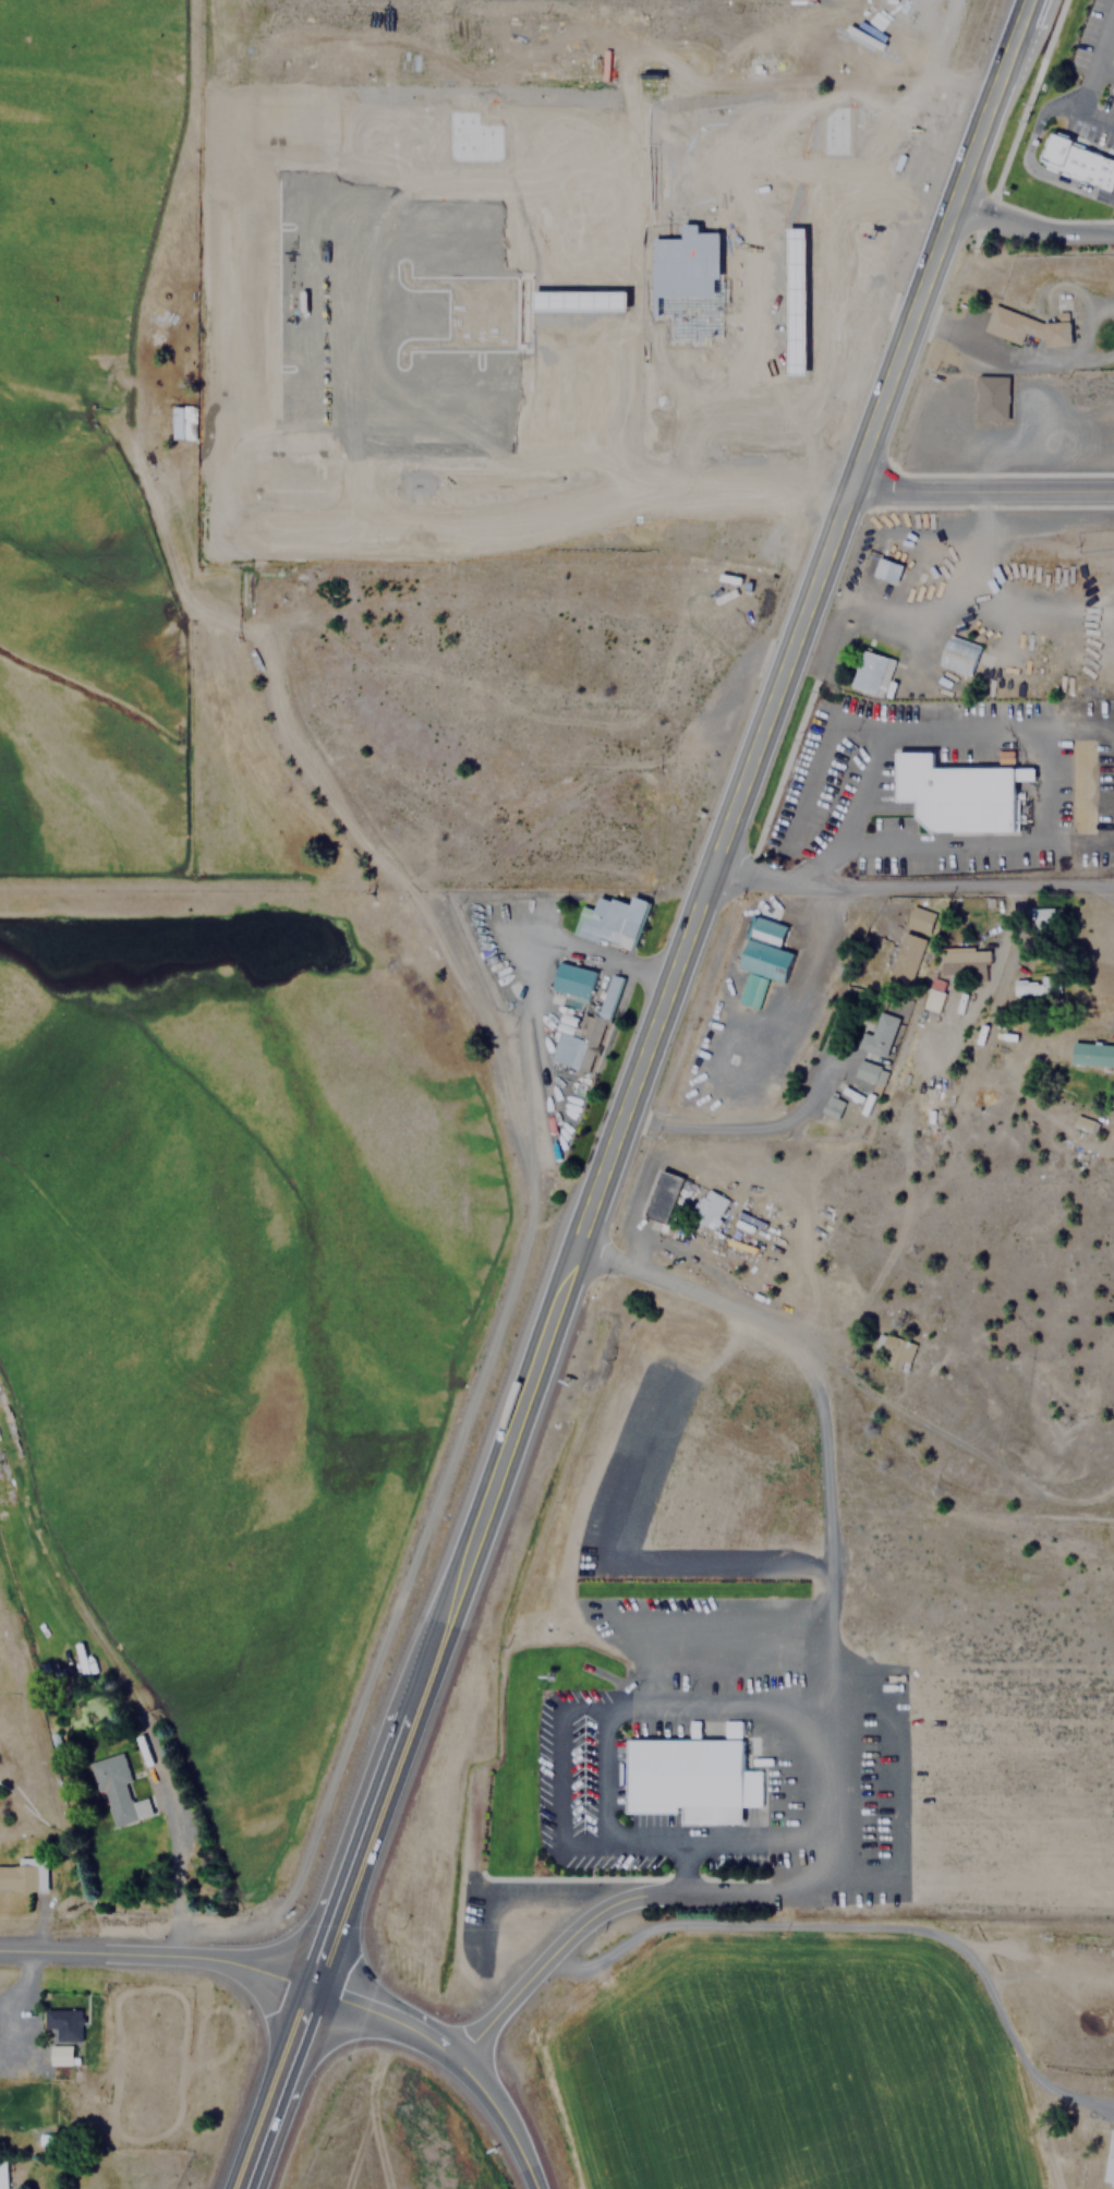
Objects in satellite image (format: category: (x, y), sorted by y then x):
road: (1090, 77)
building: (1074, 159)
road: (1026, 161)
parking lot: (719, 172)
road: (475, 199)
road: (1036, 227)
parking lot: (427, 260)
road: (762, 270)
building: (687, 284)
parking lot: (739, 284)
building: (579, 300)
gas station: (579, 300)
building: (797, 302)
gas station: (797, 302)
road: (823, 325)
building: (1025, 327)
building: (990, 397)
building: (182, 422)
road: (465, 423)
parking lot: (761, 438)
road: (985, 486)
road: (560, 519)
building: (885, 569)
building: (957, 653)
building: (871, 672)
building: (954, 794)
road: (915, 886)
building: (1045, 915)
building: (919, 918)
building: (609, 921)
road: (692, 941)
building: (761, 958)
building: (905, 958)
building: (964, 961)
building: (571, 981)
building: (1034, 985)
building: (935, 994)
building: (607, 995)
building: (880, 1033)
building: (568, 1049)
building: (1091, 1054)
building: (869, 1071)
building: (833, 1106)
building: (1082, 1122)
building: (663, 1196)
building: (707, 1206)
building: (894, 1349)
road: (832, 1489)
building: (734, 1729)
building: (688, 1778)
building: (117, 1791)
road: (160, 1814)
building: (23, 1874)
road: (615, 1905)
road: (329, 1929)
road: (156, 1957)
building: (62, 2022)
road: (456, 2046)
building: (60, 2055)
road: (273, 2082)
building: (1109, 2162)
building: (2, 2175)

